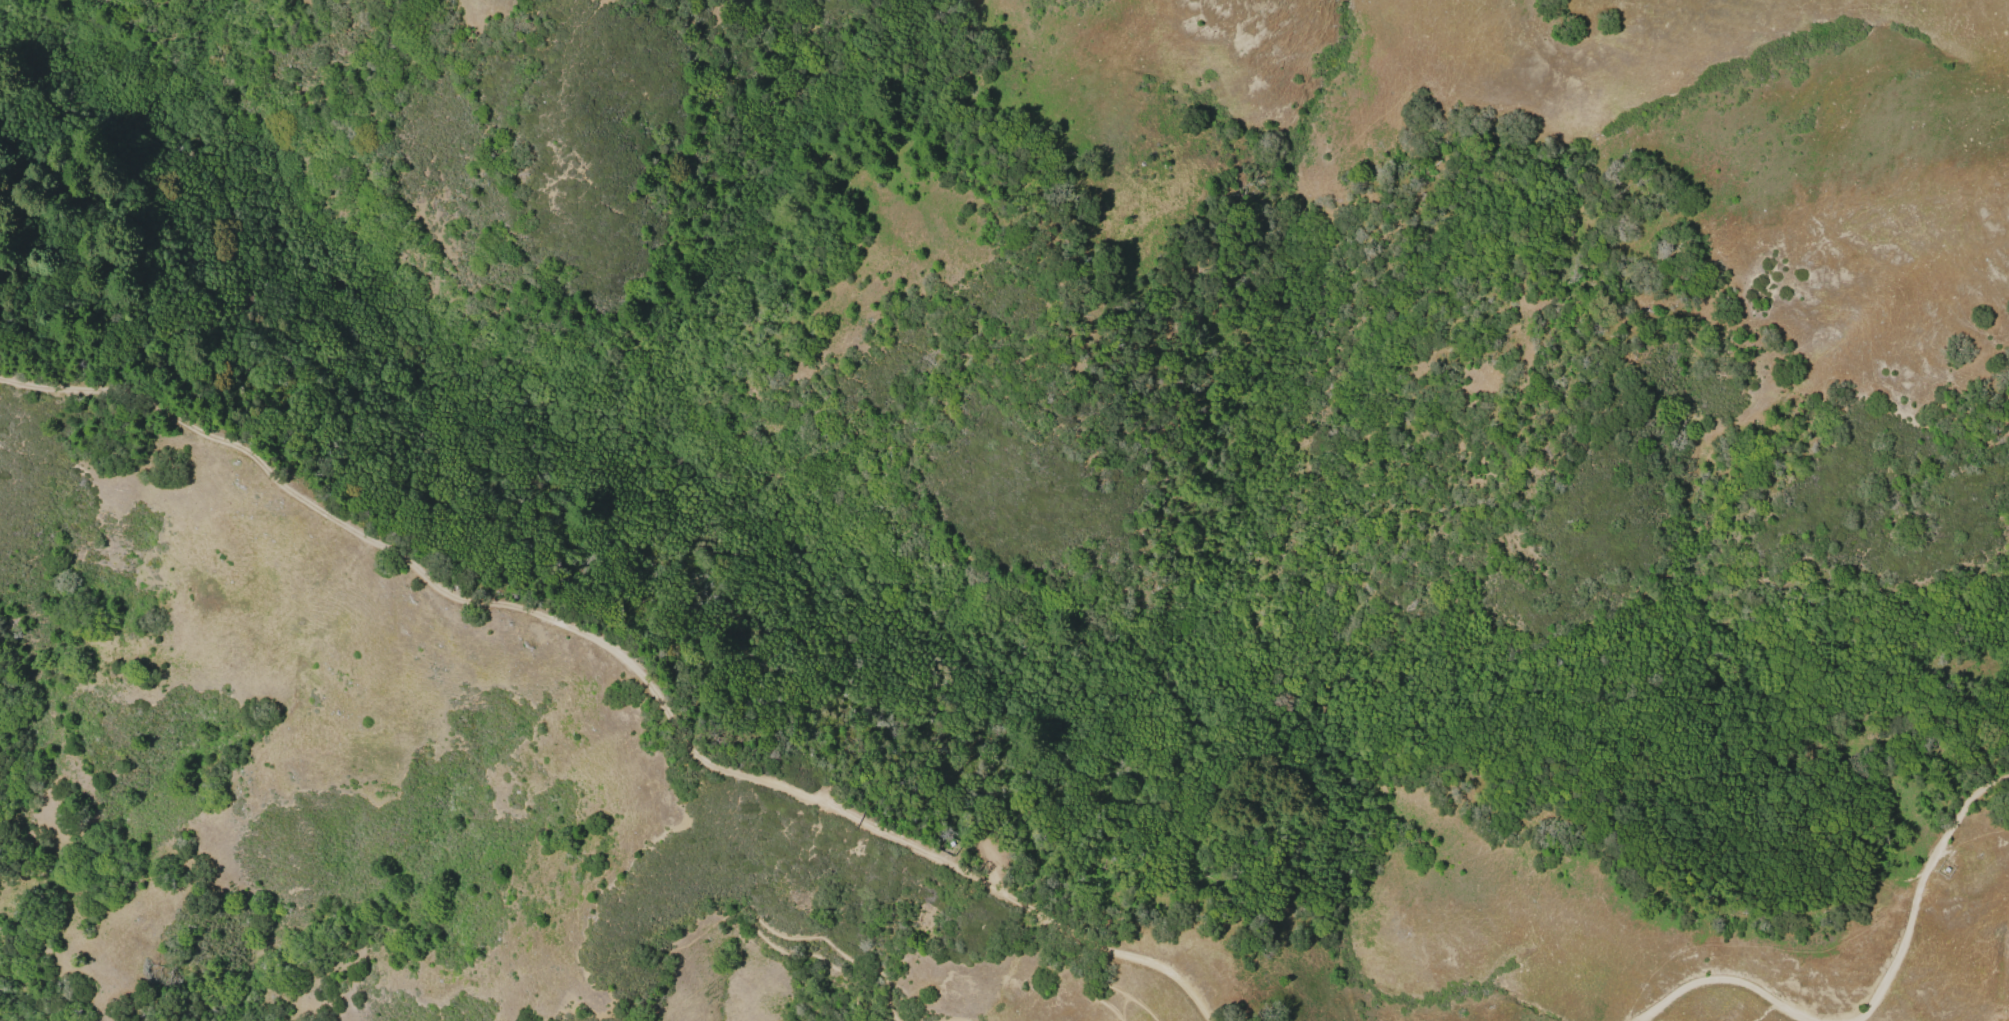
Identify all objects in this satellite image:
road: (622, 675)
road: (1943, 835)
road: (759, 922)
road: (1888, 975)
road: (1724, 979)
road: (1098, 981)
road: (955, 1020)

